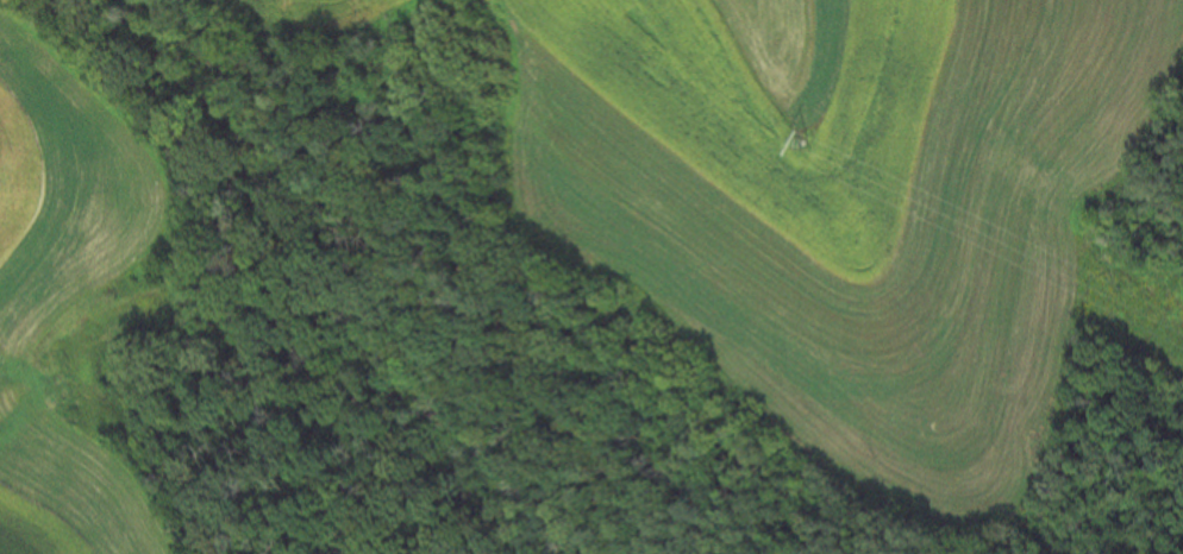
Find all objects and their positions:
power tower: (802, 141)

